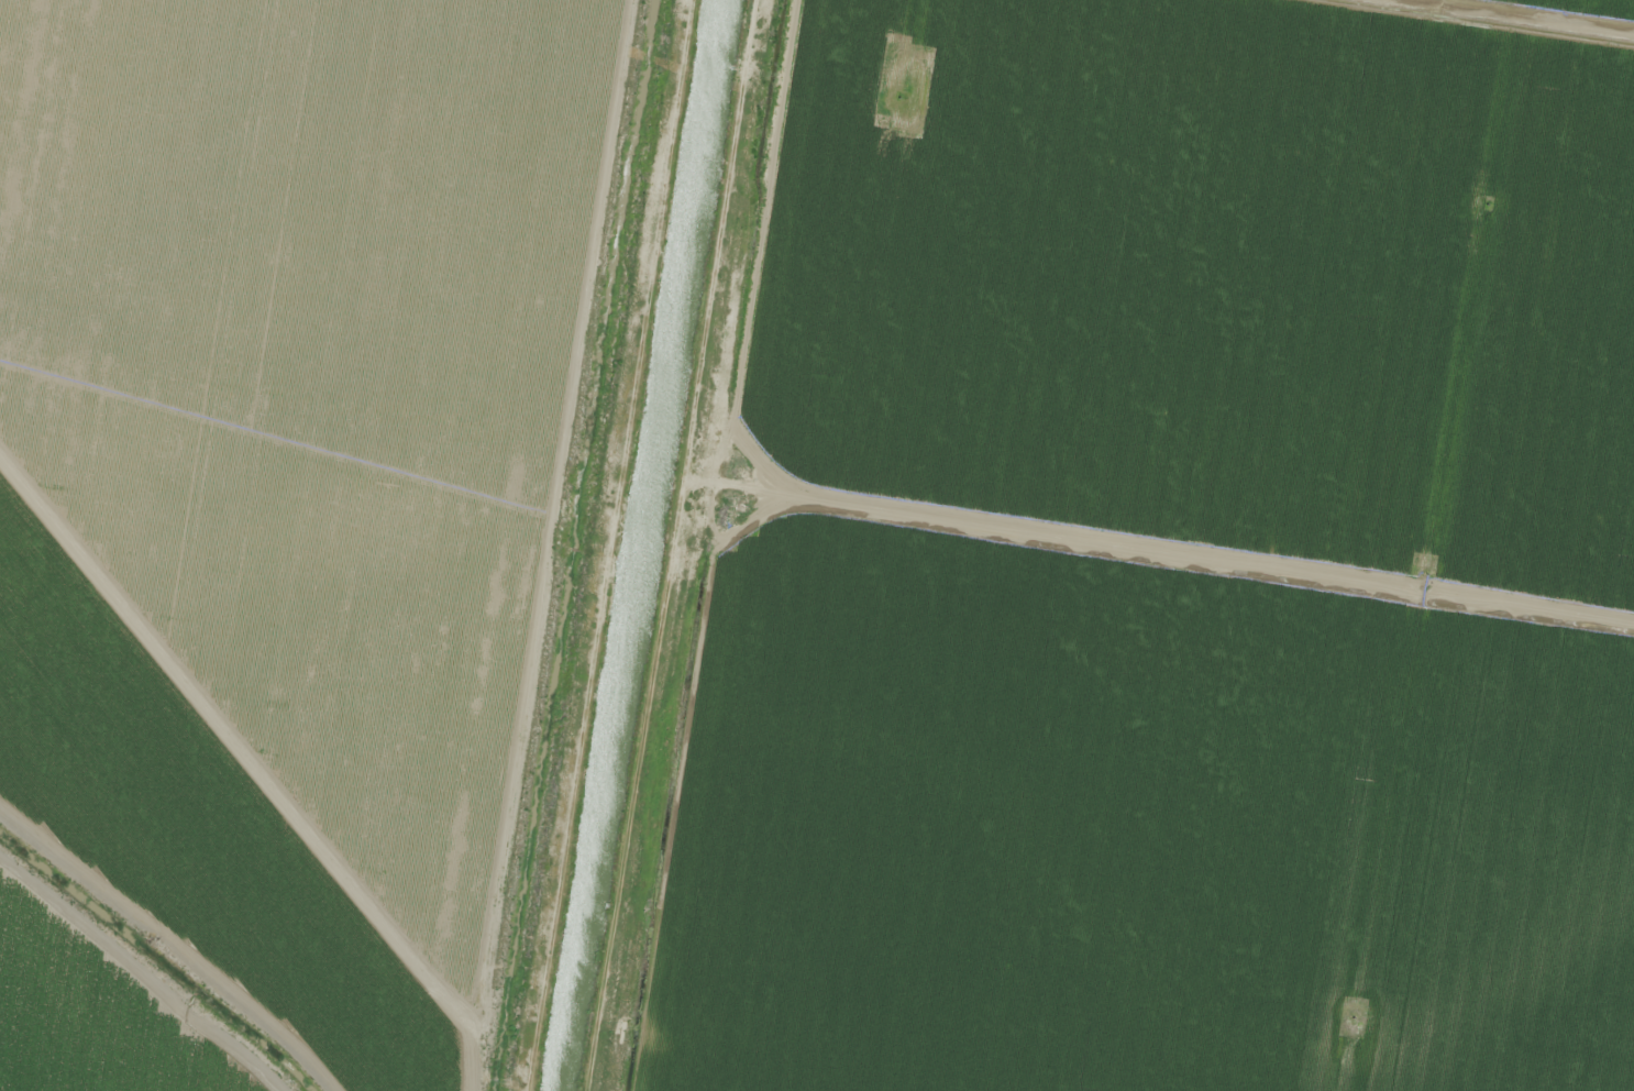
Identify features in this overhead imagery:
road: (1223, 152)
road: (599, 545)
river: (608, 778)
river: (157, 962)

